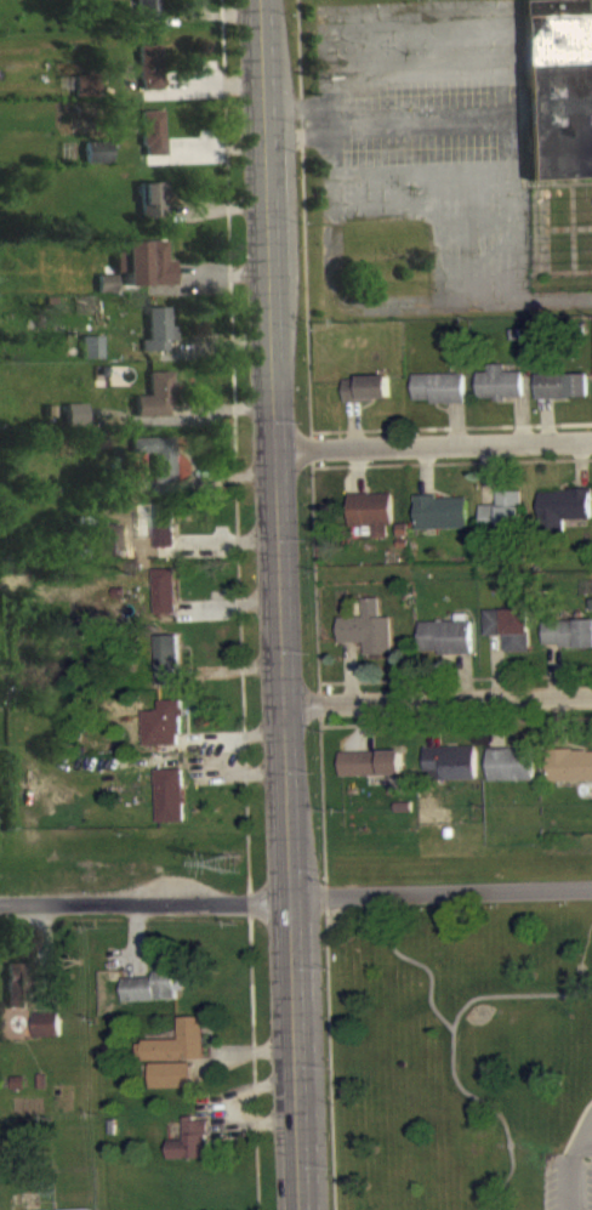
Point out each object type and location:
building: (144, 16)
building: (148, 79)
building: (85, 97)
building: (557, 104)
road: (393, 131)
building: (150, 144)
building: (149, 211)
building: (143, 275)
building: (106, 295)
building: (156, 341)
building: (90, 359)
building: (500, 396)
building: (563, 397)
building: (439, 399)
building: (368, 401)
building: (153, 408)
building: (73, 426)
road: (436, 444)
building: (95, 450)
building: (155, 468)
building: (564, 519)
building: (443, 524)
building: (503, 526)
building: (163, 538)
building: (106, 552)
building: (164, 603)
road: (281, 604)
building: (510, 640)
building: (368, 641)
building: (568, 646)
building: (446, 649)
building: (166, 670)
road: (438, 694)
building: (163, 737)
building: (451, 773)
building: (370, 776)
building: (511, 777)
building: (570, 777)
building: (169, 807)
power tower: (229, 868)
road: (442, 894)
road: (147, 904)
building: (18, 996)
building: (152, 999)
building: (46, 1036)
building: (177, 1055)
building: (170, 1087)
building: (190, 1153)
road: (575, 1178)

